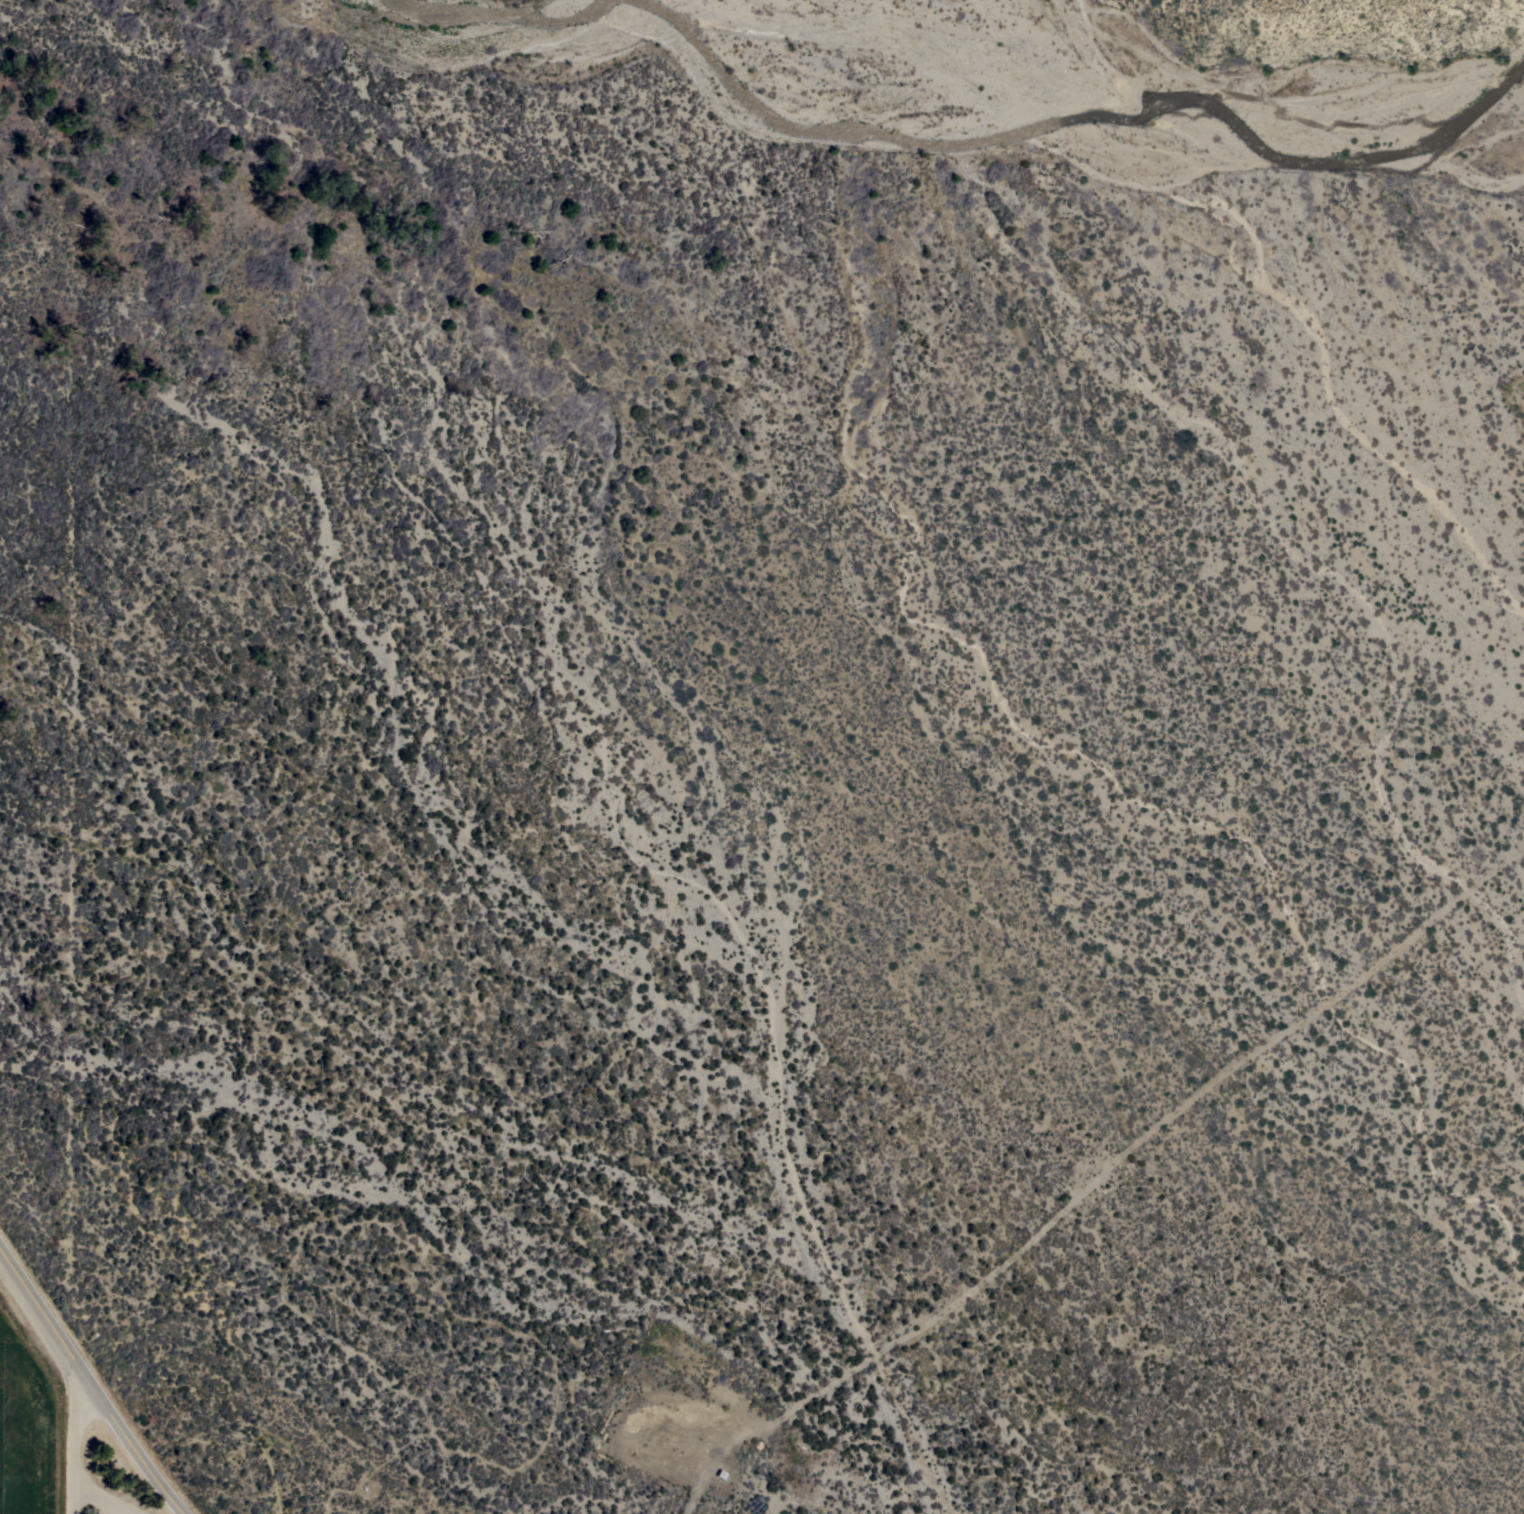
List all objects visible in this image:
road: (89, 1383)
crop: (31, 1426)
road: (74, 1437)
road: (102, 1497)

